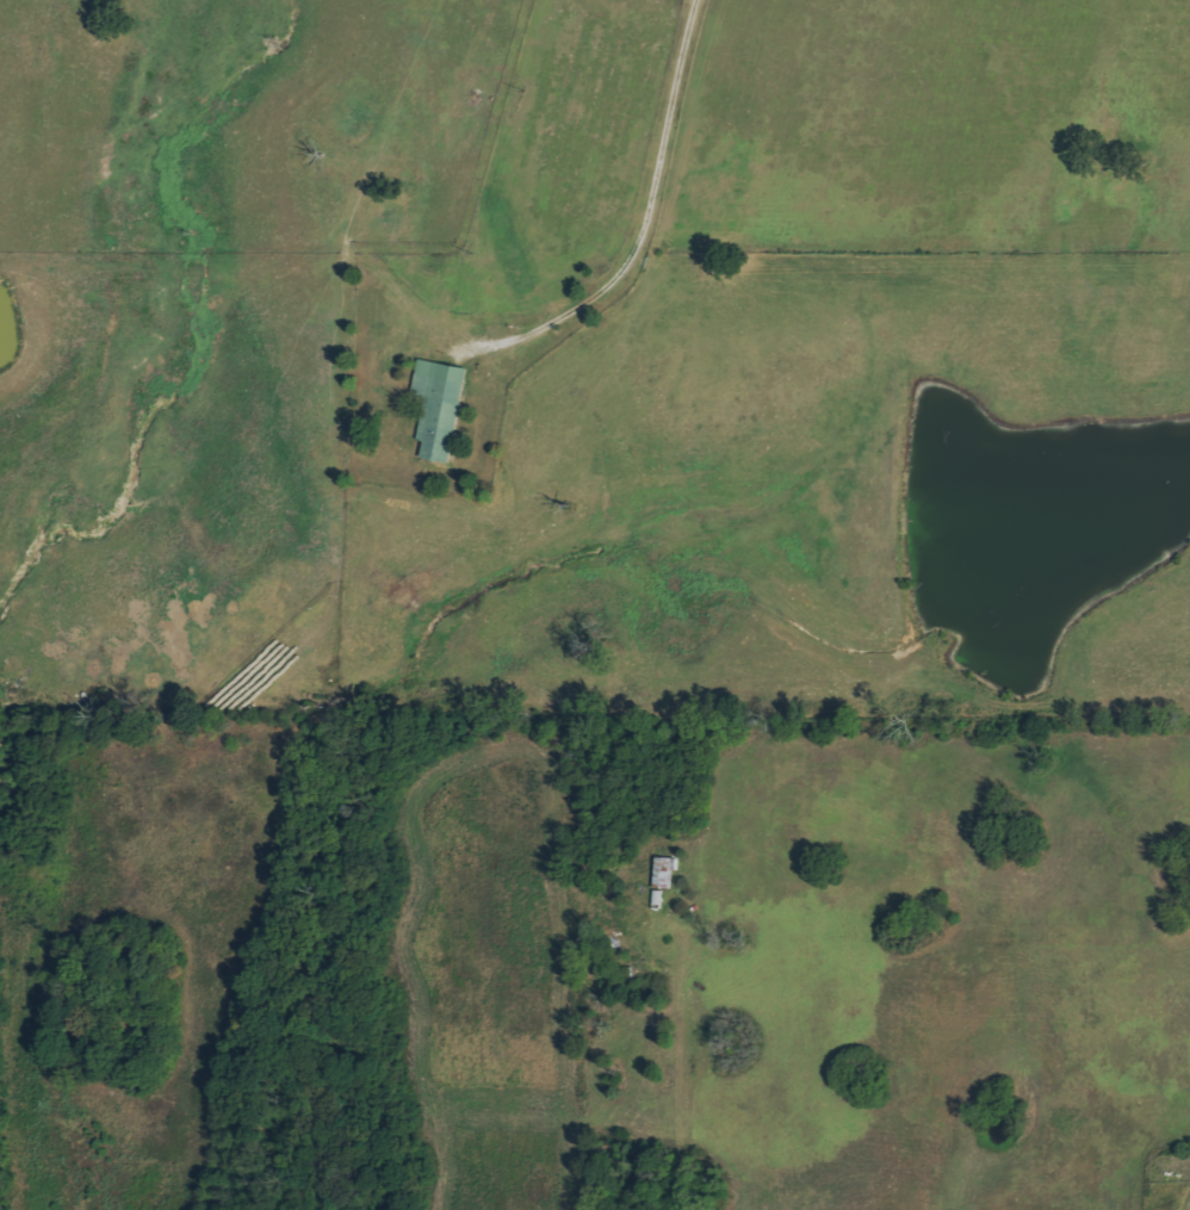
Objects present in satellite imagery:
building: (440, 408)
building: (665, 871)

